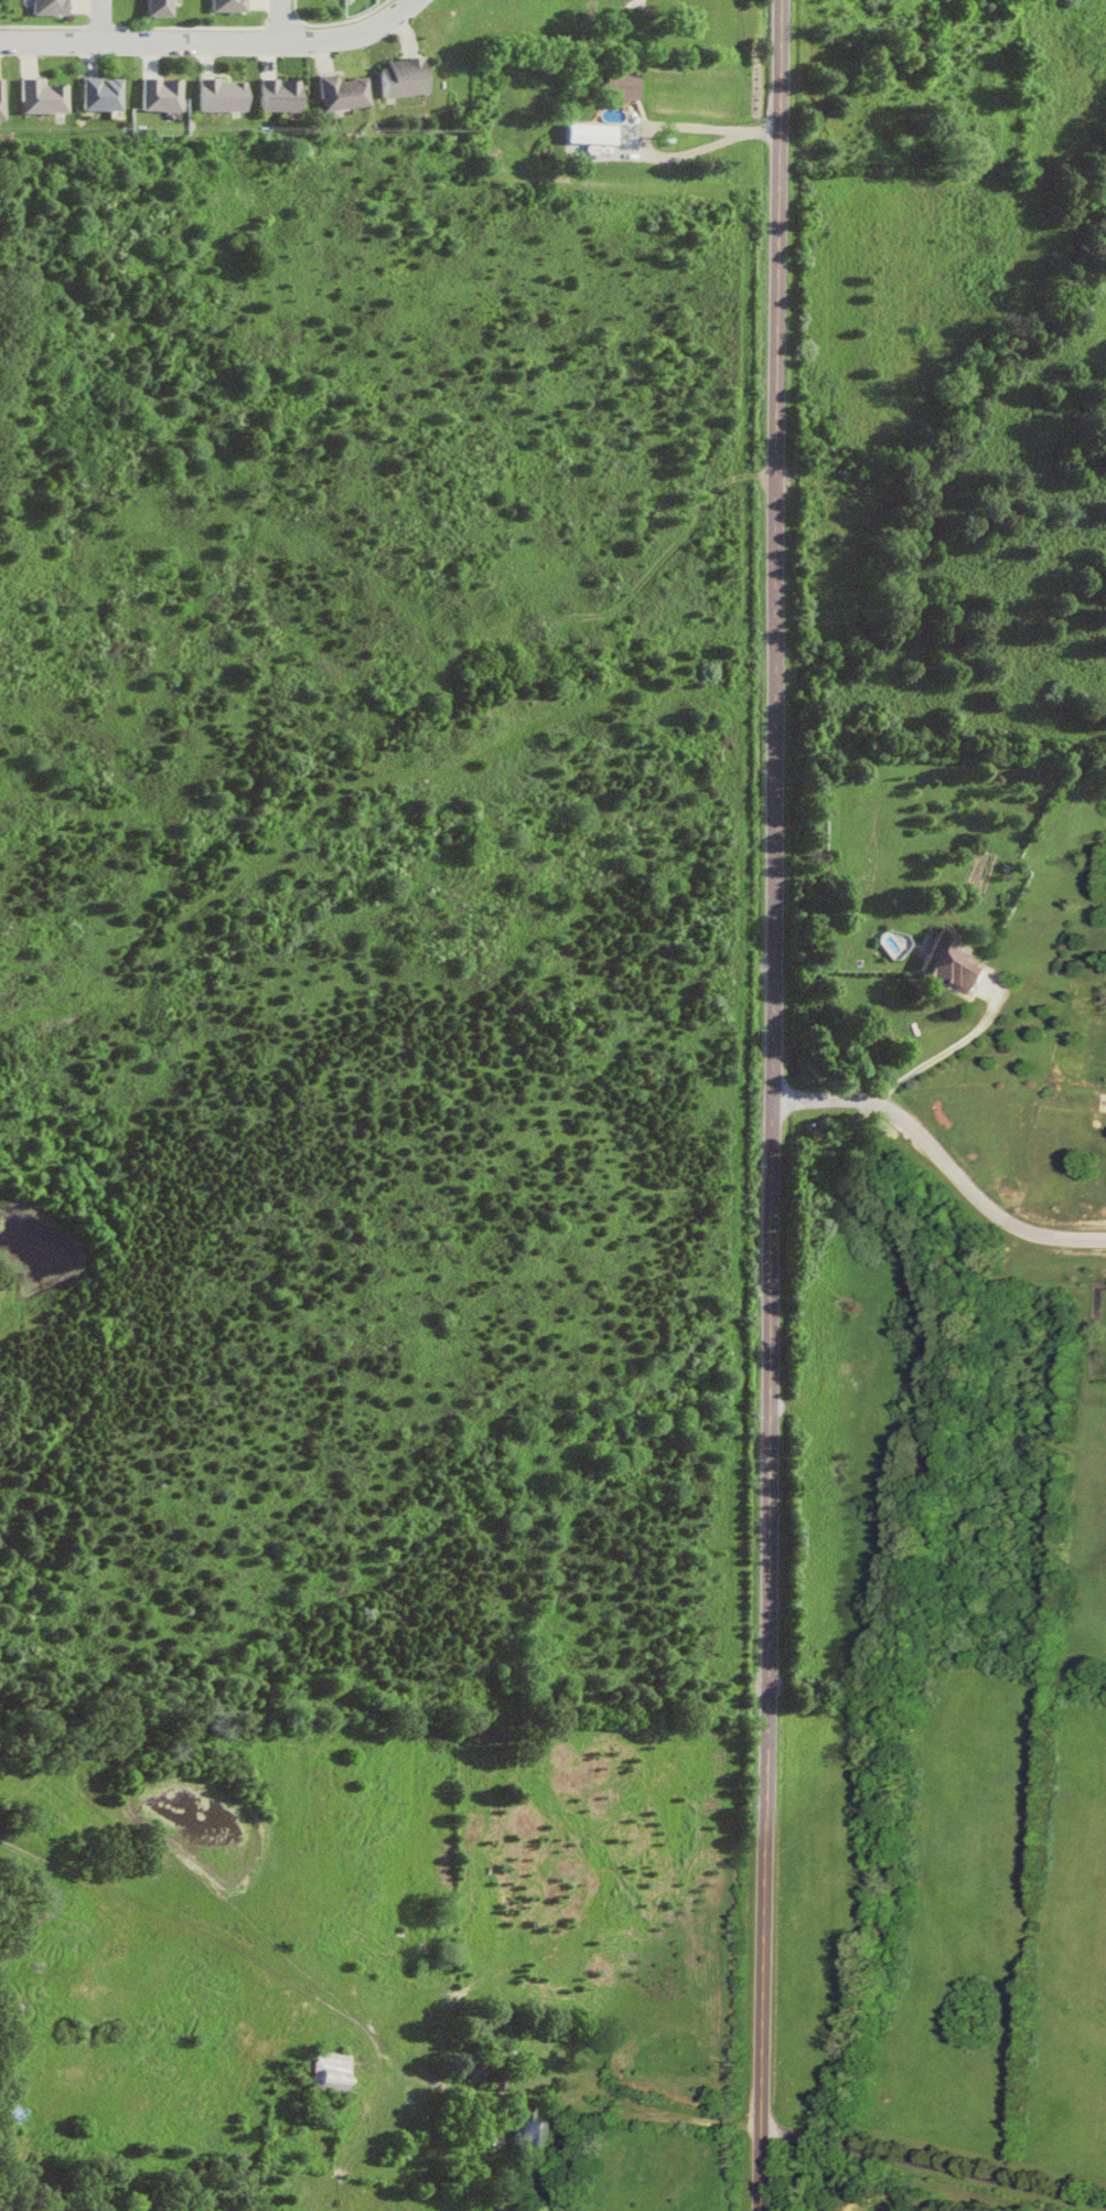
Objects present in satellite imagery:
building: (234, 6)
building: (56, 7)
building: (163, 8)
road: (280, 20)
road: (101, 21)
road: (215, 41)
building: (405, 77)
building: (625, 85)
building: (346, 93)
building: (107, 94)
building: (168, 95)
building: (227, 95)
building: (286, 95)
building: (49, 97)
building: (3, 99)
building: (595, 133)
road: (690, 153)
road: (775, 371)
building: (959, 962)
road: (948, 1060)
road: (942, 1162)
road: (771, 1477)
building: (536, 2134)
road: (819, 2149)

